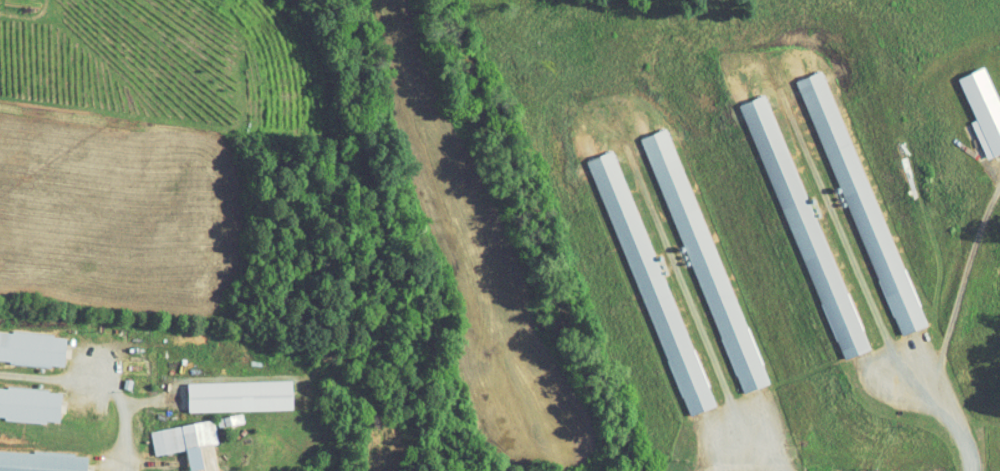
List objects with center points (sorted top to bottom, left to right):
building: (976, 107)
building: (851, 197)
building: (694, 255)
building: (640, 277)
building: (34, 350)
road: (243, 360)
road: (100, 382)
building: (230, 390)
building: (32, 404)
building: (172, 431)
building: (44, 461)
building: (171, 468)

